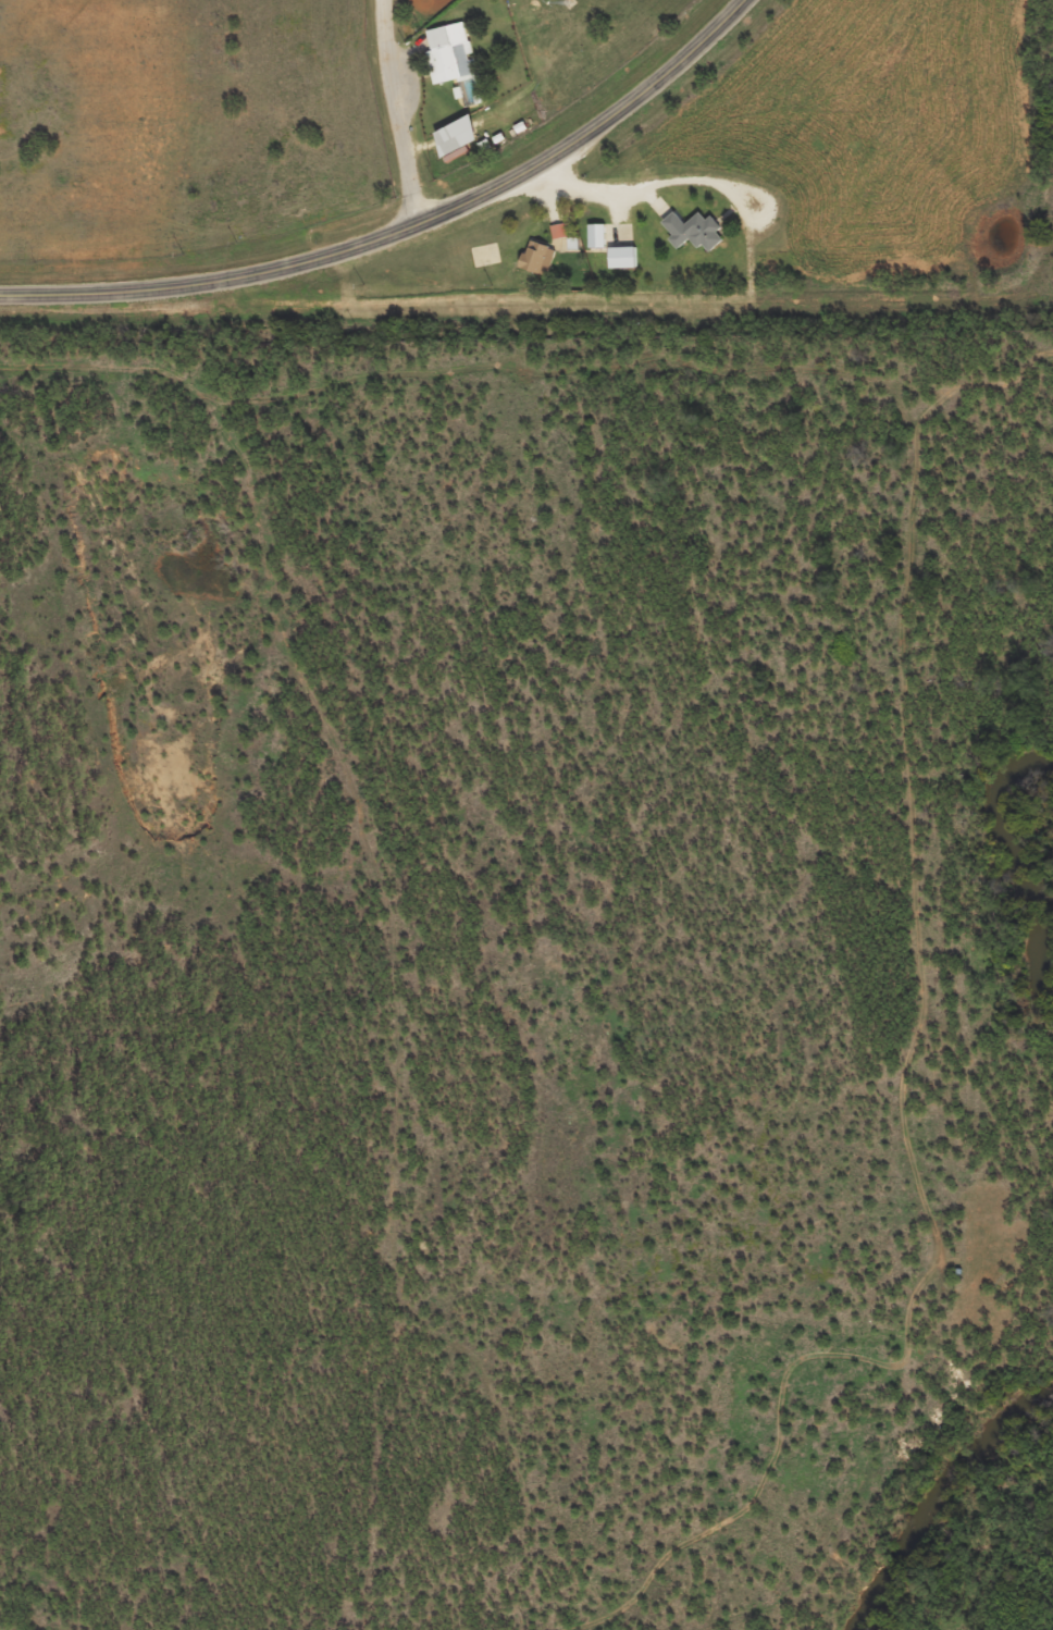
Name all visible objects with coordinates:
building: (455, 61)
road: (398, 113)
building: (456, 137)
road: (694, 180)
road: (406, 230)
building: (558, 231)
building: (693, 231)
building: (596, 236)
building: (622, 257)
building: (537, 258)
road: (134, 355)

